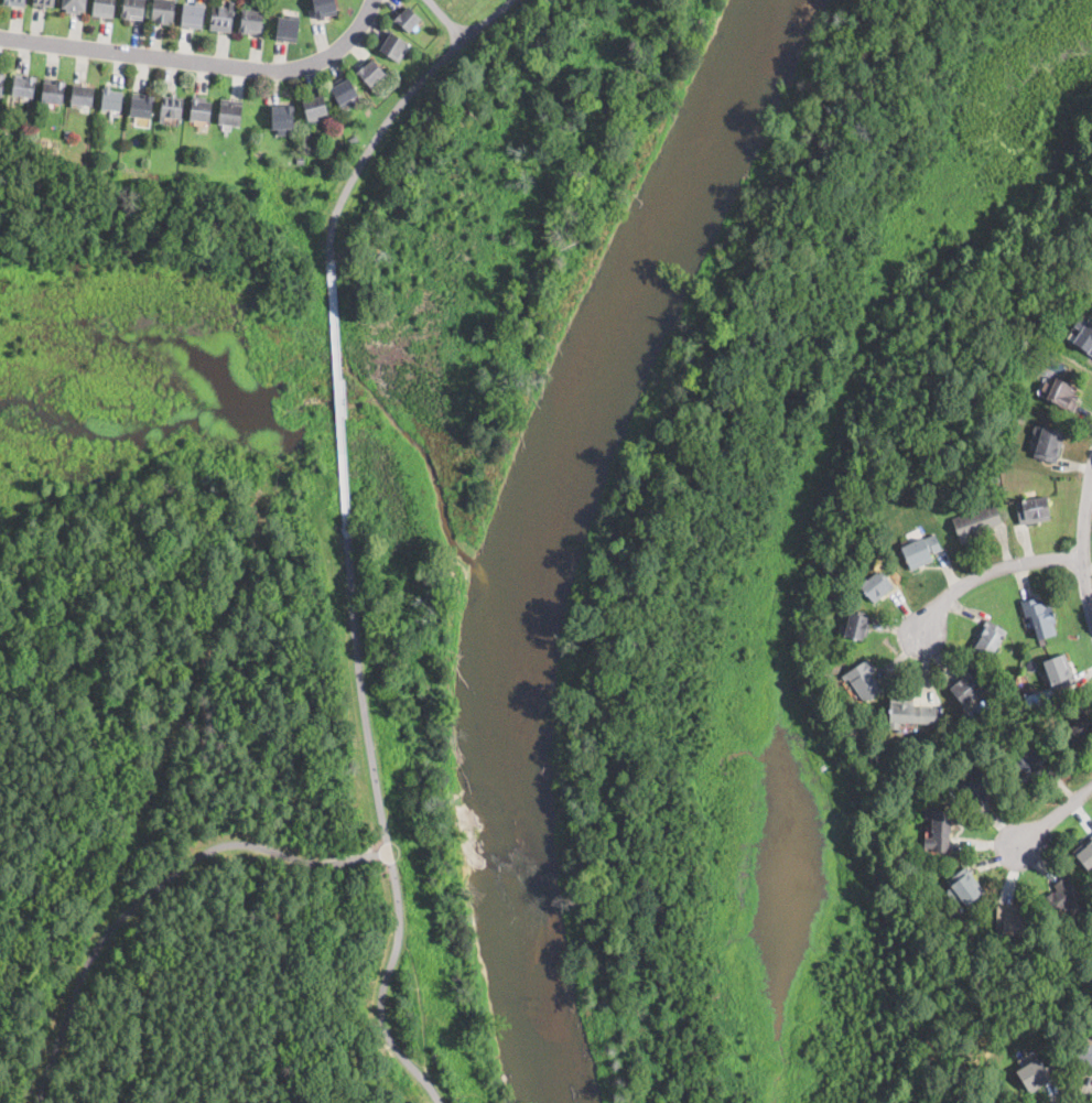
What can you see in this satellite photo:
building: (15, 2)
building: (45, 3)
building: (75, 6)
building: (105, 8)
building: (325, 8)
building: (134, 9)
building: (163, 11)
building: (192, 15)
building: (221, 18)
building: (407, 19)
road: (447, 19)
building: (252, 21)
building: (288, 29)
building: (392, 44)
road: (202, 62)
building: (370, 73)
building: (2, 84)
building: (23, 85)
building: (343, 89)
building: (54, 91)
building: (83, 95)
building: (111, 99)
building: (141, 105)
building: (171, 106)
building: (316, 107)
building: (201, 108)
building: (230, 112)
road: (390, 115)
building: (282, 118)
building: (68, 133)
building: (353, 138)
building: (259, 153)
building: (300, 160)
park: (409, 249)
building: (1048, 268)
building: (1073, 270)
building: (1083, 335)
building: (1060, 393)
road: (339, 400)
building: (1048, 445)
building: (996, 477)
building: (899, 483)
building: (1032, 509)
building: (974, 523)
river: (540, 525)
road: (1082, 536)
building: (921, 549)
road: (982, 574)
building: (875, 586)
building: (1038, 616)
building: (855, 626)
building: (988, 637)
building: (1058, 671)
building: (863, 680)
building: (967, 688)
building: (1030, 699)
building: (911, 714)
building: (1078, 727)
park: (215, 753)
building: (1032, 763)
building: (975, 788)
road: (1055, 815)
road: (383, 826)
building: (939, 831)
building: (1084, 853)
road: (154, 887)
building: (963, 887)
building: (1063, 898)
building: (1009, 920)
building: (1084, 1051)
building: (1031, 1075)

